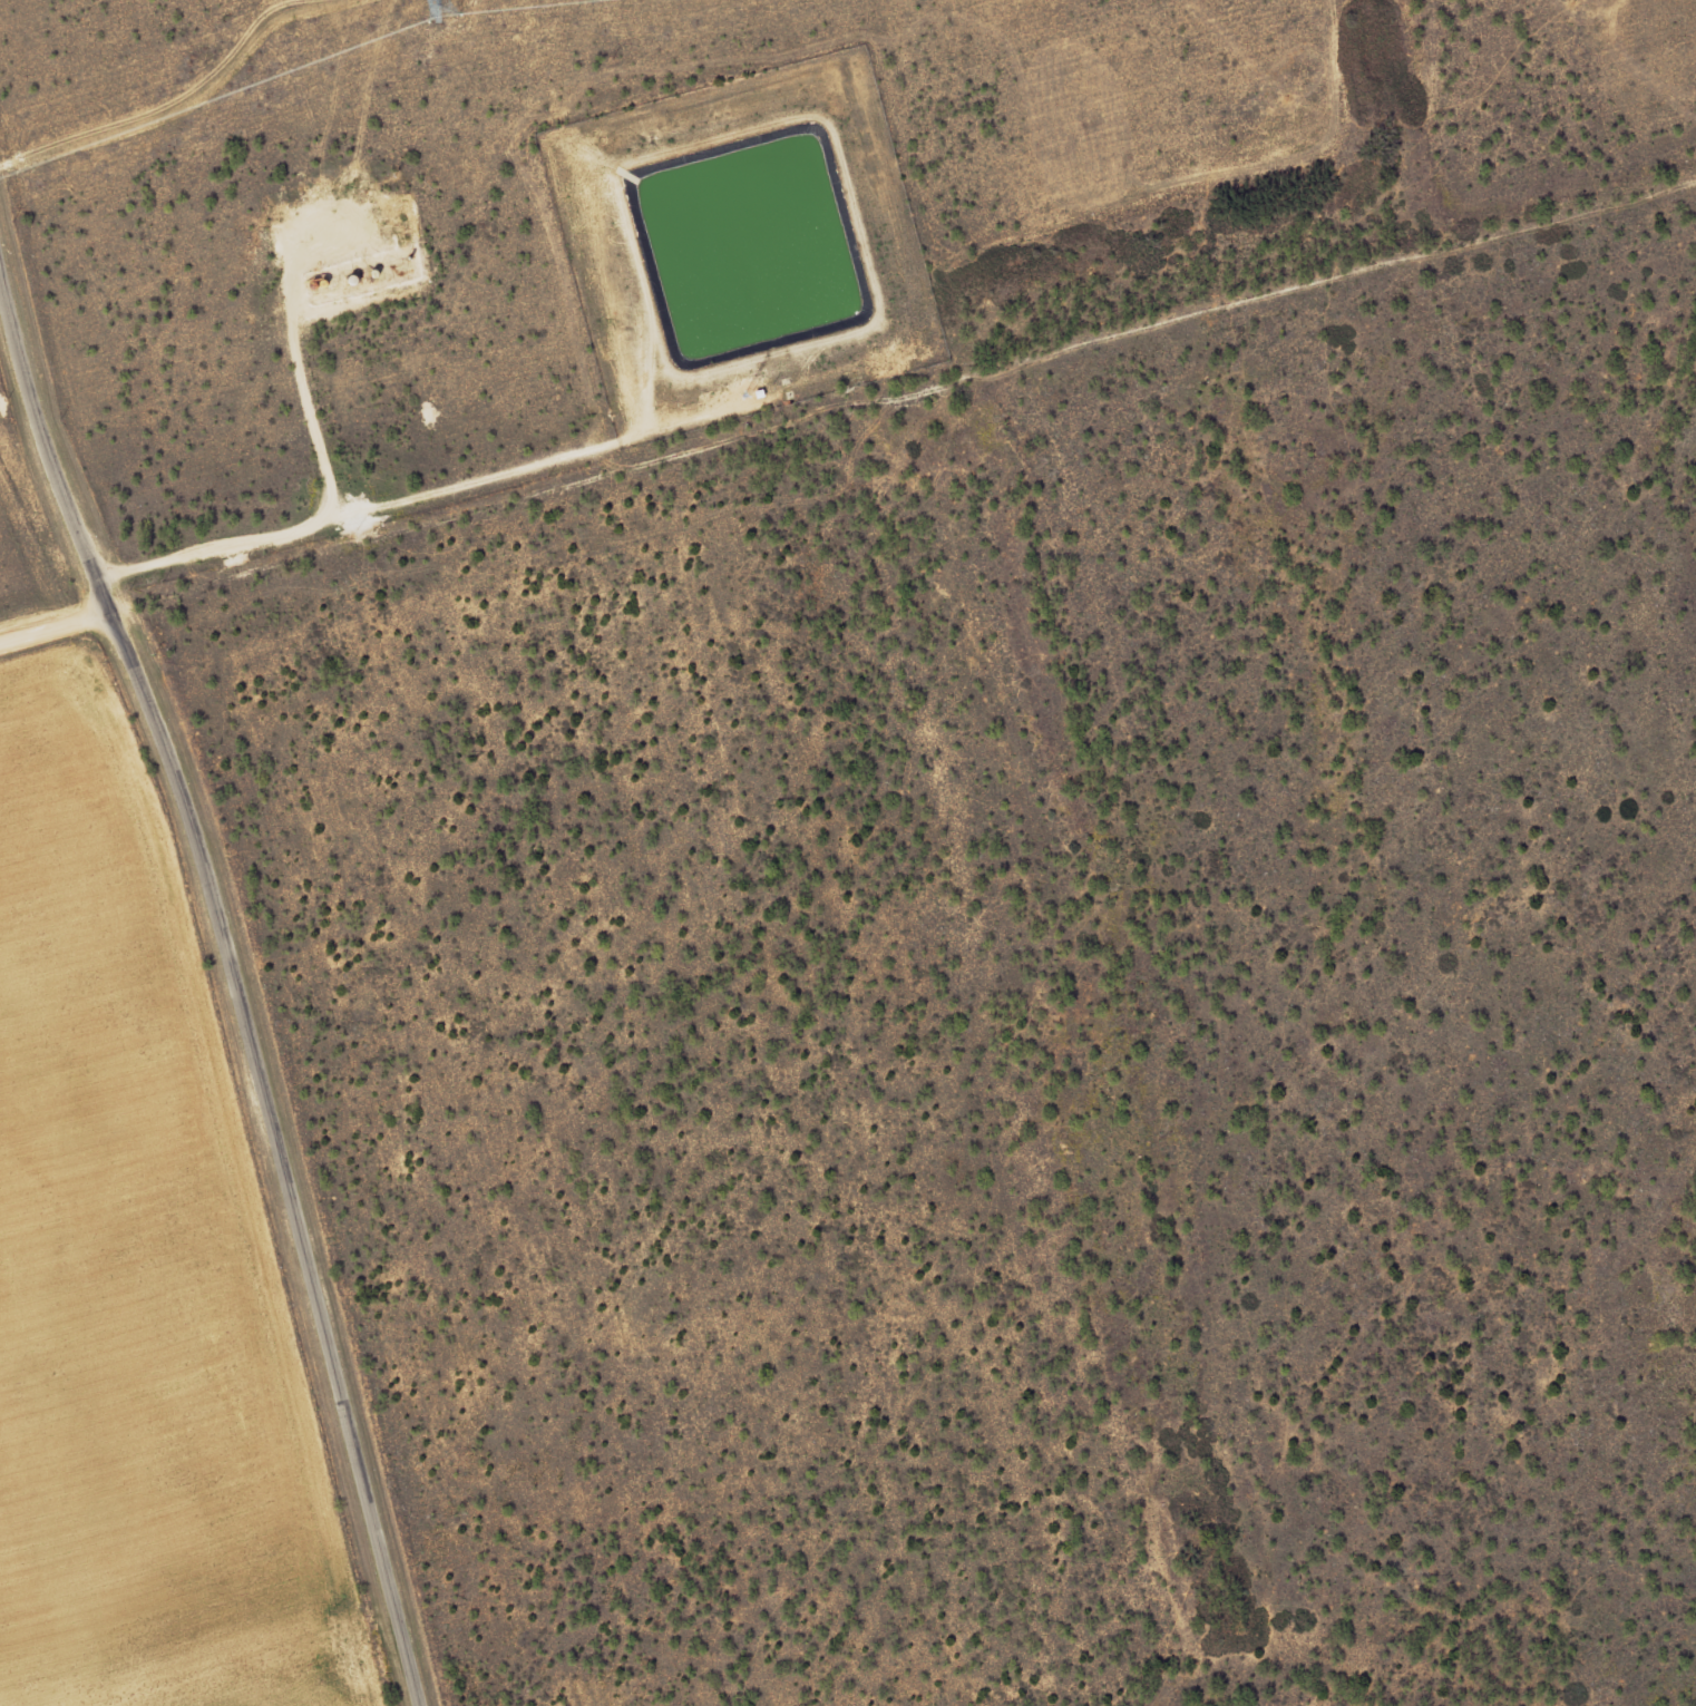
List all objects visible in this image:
power tower: (439, 3)
road: (51, 622)
road: (232, 951)

